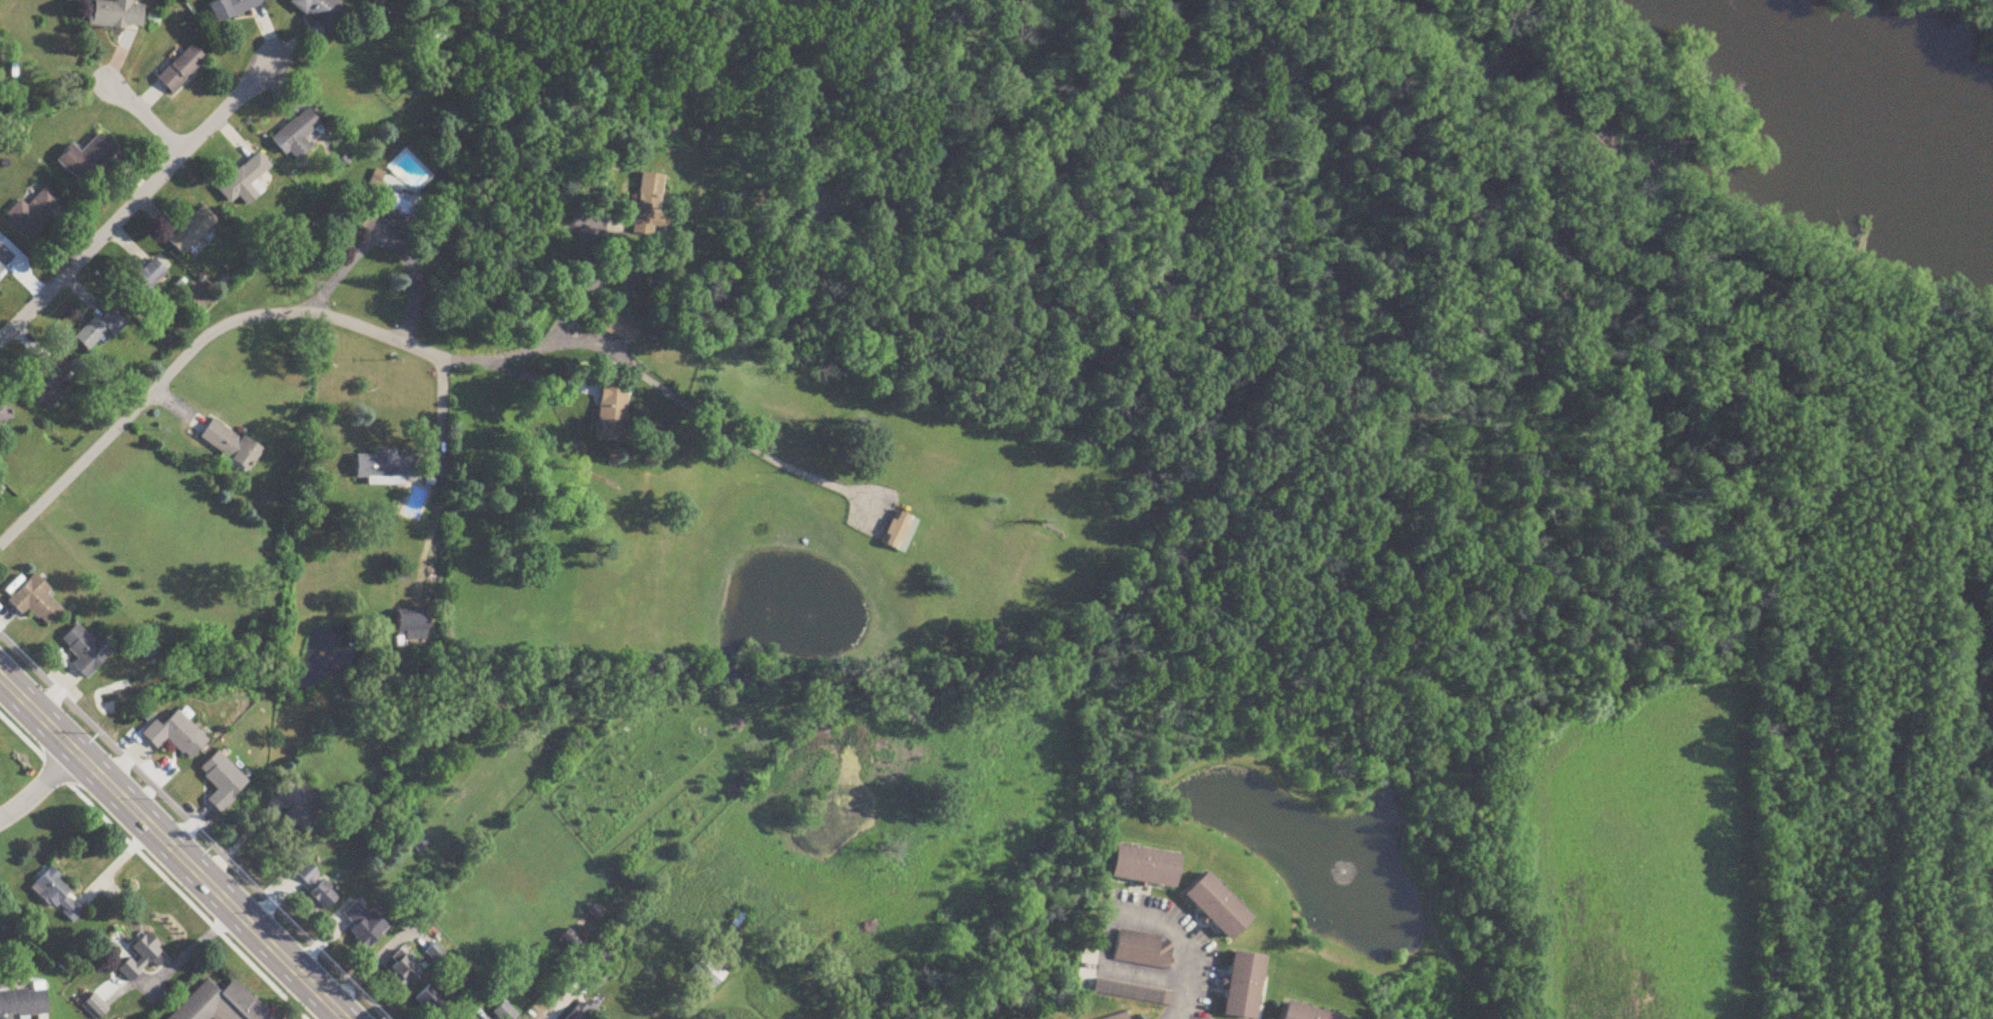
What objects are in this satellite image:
building: (231, 8)
building: (320, 12)
park: (769, 13)
building: (116, 15)
building: (433, 37)
building: (181, 69)
river: (1855, 83)
building: (296, 132)
road: (179, 153)
building: (87, 160)
building: (244, 182)
road: (135, 199)
building: (33, 212)
building: (389, 212)
building: (192, 231)
road: (385, 242)
building: (4, 258)
building: (143, 281)
road: (588, 292)
building: (620, 328)
building: (98, 330)
road: (412, 346)
building: (47, 385)
building: (4, 413)
building: (612, 414)
road: (442, 416)
building: (230, 446)
building: (385, 468)
building: (900, 532)
building: (35, 602)
building: (414, 627)
building: (86, 651)
building: (175, 736)
building: (222, 782)
road: (40, 789)
building: (299, 810)
road: (185, 834)
road: (238, 839)
building: (420, 845)
road: (172, 848)
park: (1640, 853)
road: (156, 863)
building: (1141, 864)
building: (307, 874)
building: (57, 896)
building: (323, 896)
building: (1213, 902)
road: (1112, 915)
building: (363, 925)
building: (1142, 945)
parking lot: (1152, 951)
building: (1088, 959)
building: (139, 961)
building: (594, 968)
building: (404, 969)
building: (711, 971)
building: (1241, 985)
building: (1129, 990)
road: (718, 991)
building: (19, 1000)
building: (429, 1000)
road: (1183, 1001)
building: (220, 1004)
building: (94, 1008)
building: (583, 1012)
building: (1299, 1012)
building: (504, 1013)
building: (1115, 1014)
building: (4, 1016)
building: (1049, 1016)
building: (461, 1018)

